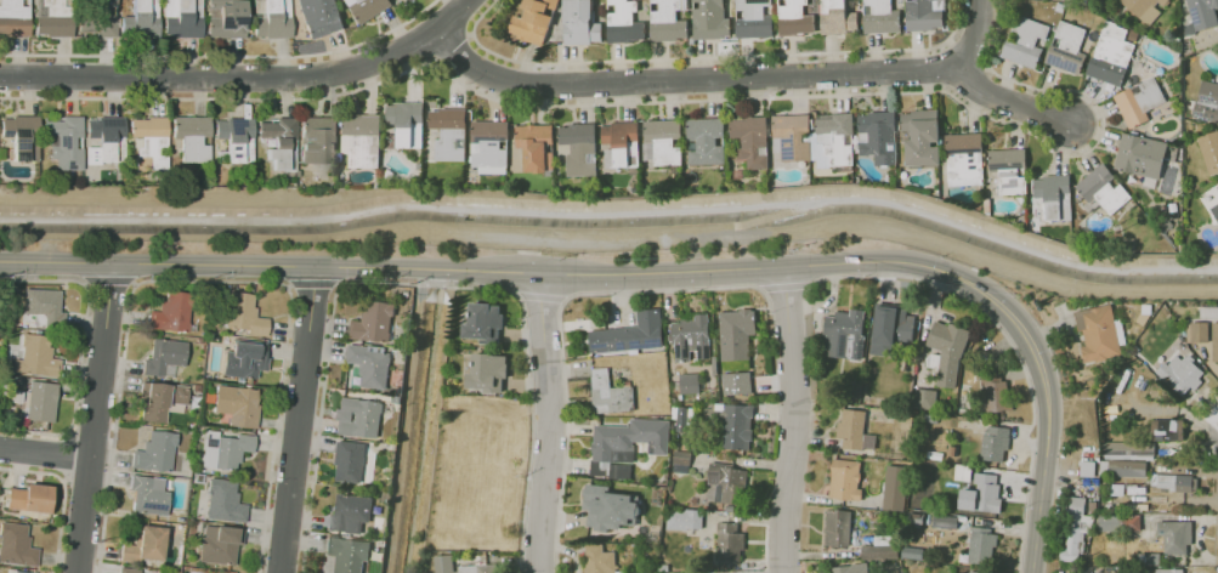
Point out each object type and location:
building: (409, 0)
building: (400, 2)
building: (1144, 6)
building: (368, 7)
building: (1200, 12)
building: (925, 15)
road: (455, 16)
building: (882, 16)
building: (321, 17)
building: (839, 17)
building: (15, 18)
building: (55, 18)
building: (100, 18)
building: (185, 18)
building: (227, 18)
building: (754, 18)
building: (795, 18)
building: (143, 19)
building: (272, 19)
building: (710, 19)
building: (534, 21)
building: (668, 21)
building: (580, 22)
building: (624, 23)
building: (1112, 24)
building: (249, 28)
building: (1129, 33)
road: (974, 35)
building: (551, 40)
building: (691, 40)
building: (1026, 41)
building: (1177, 41)
building: (1041, 42)
building: (1067, 49)
building: (1188, 50)
road: (225, 56)
road: (706, 57)
building: (1111, 59)
road: (225, 79)
road: (689, 80)
road: (663, 100)
building: (1140, 101)
building: (1208, 101)
road: (1008, 102)
building: (408, 123)
building: (1189, 126)
building: (451, 134)
building: (22, 136)
building: (879, 136)
building: (192, 137)
building: (793, 137)
building: (237, 138)
building: (922, 138)
building: (106, 140)
building: (363, 140)
building: (752, 140)
building: (834, 140)
building: (319, 141)
building: (707, 141)
building: (64, 142)
building: (149, 142)
building: (279, 142)
building: (622, 143)
building: (663, 143)
building: (491, 146)
building: (537, 147)
building: (580, 148)
building: (1209, 151)
building: (1141, 155)
building: (965, 159)
building: (419, 165)
building: (1009, 170)
building: (740, 174)
building: (318, 175)
building: (390, 175)
building: (378, 183)
building: (1217, 186)
building: (1101, 191)
building: (1055, 195)
building: (979, 204)
building: (988, 206)
building: (1216, 210)
building: (1166, 225)
building: (1132, 246)
road: (453, 270)
building: (44, 307)
building: (172, 312)
building: (244, 314)
building: (374, 322)
building: (485, 323)
building: (895, 329)
building: (1196, 331)
building: (735, 333)
building: (1097, 333)
building: (844, 334)
building: (630, 335)
building: (692, 337)
building: (1214, 341)
building: (947, 350)
building: (164, 356)
building: (36, 357)
building: (244, 358)
building: (370, 365)
building: (488, 371)
building: (1180, 373)
building: (15, 381)
road: (1044, 382)
building: (737, 384)
building: (610, 393)
building: (998, 398)
building: (158, 399)
building: (927, 399)
building: (39, 402)
building: (237, 405)
building: (361, 418)
road: (95, 420)
road: (298, 420)
road: (793, 422)
road: (550, 424)
building: (737, 427)
building: (850, 430)
building: (1166, 430)
building: (996, 444)
building: (627, 446)
building: (1127, 449)
building: (155, 450)
building: (225, 450)
road: (45, 453)
building: (680, 459)
building: (350, 461)
building: (1124, 469)
building: (845, 480)
building: (725, 482)
building: (1175, 482)
building: (895, 489)
building: (981, 494)
building: (149, 495)
building: (29, 498)
building: (225, 503)
building: (610, 507)
building: (351, 514)
building: (685, 518)
building: (942, 521)
building: (1107, 522)
building: (840, 528)
building: (1073, 528)
building: (1174, 535)
building: (729, 541)
building: (220, 544)
building: (16, 545)
building: (145, 545)
building: (981, 545)
building: (879, 552)
building: (349, 554)
building: (599, 560)
building: (441, 563)
building: (480, 568)
building: (126, 569)
building: (842, 569)
building: (1167, 571)
building: (17, 572)
building: (976, 572)

